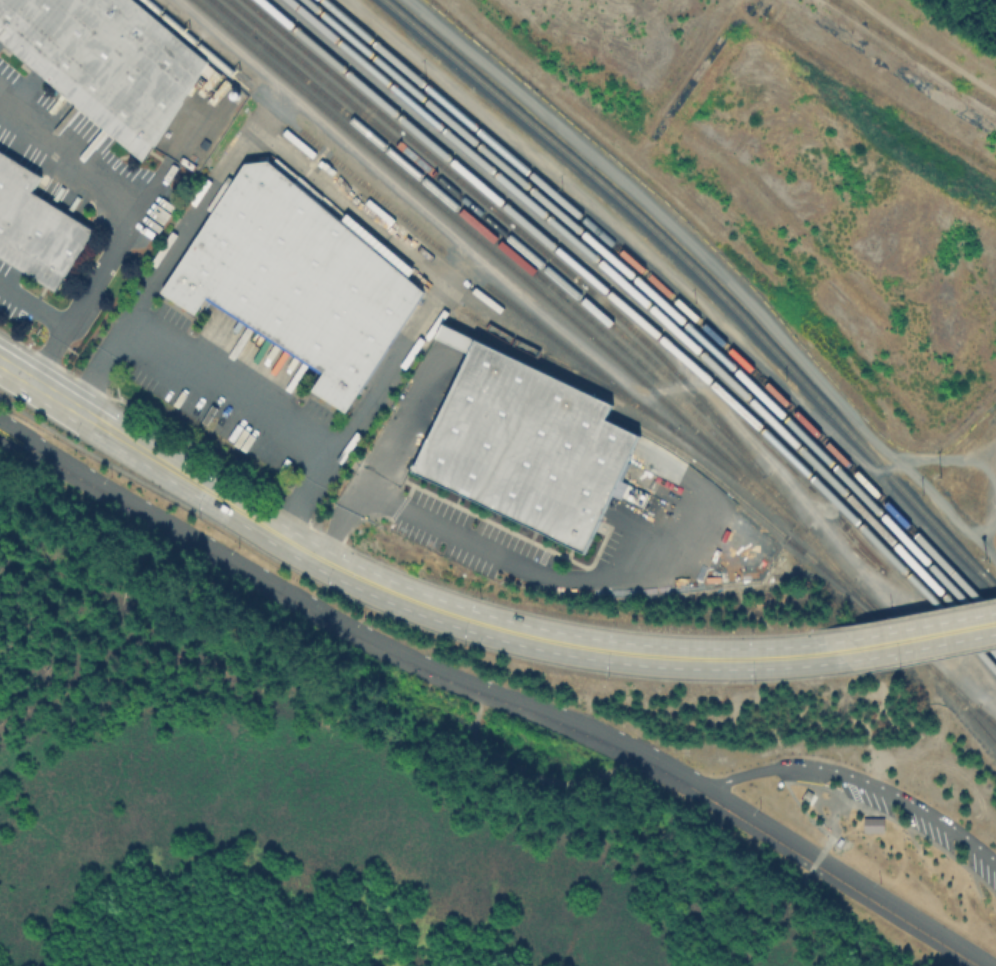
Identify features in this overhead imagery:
building: (105, 64)
road: (129, 218)
building: (33, 231)
railway: (500, 231)
railway: (514, 257)
railway: (464, 269)
railway: (564, 272)
building: (294, 281)
railway: (526, 281)
railway: (704, 281)
railway: (441, 296)
railway: (672, 297)
railway: (665, 305)
road: (33, 306)
road: (539, 309)
railway: (657, 313)
railway: (641, 322)
road: (399, 351)
road: (38, 384)
road: (228, 389)
building: (521, 447)
railway: (756, 513)
road: (444, 530)
road: (379, 563)
road: (433, 607)
road: (905, 616)
road: (402, 619)
road: (916, 638)
road: (925, 658)
road: (959, 659)
railway: (921, 663)
road: (498, 689)
railway: (953, 690)
road: (487, 699)
railway: (987, 722)
road: (520, 784)
road: (860, 784)
building: (805, 797)
road: (809, 820)
building: (871, 827)
parking lot: (922, 833)

